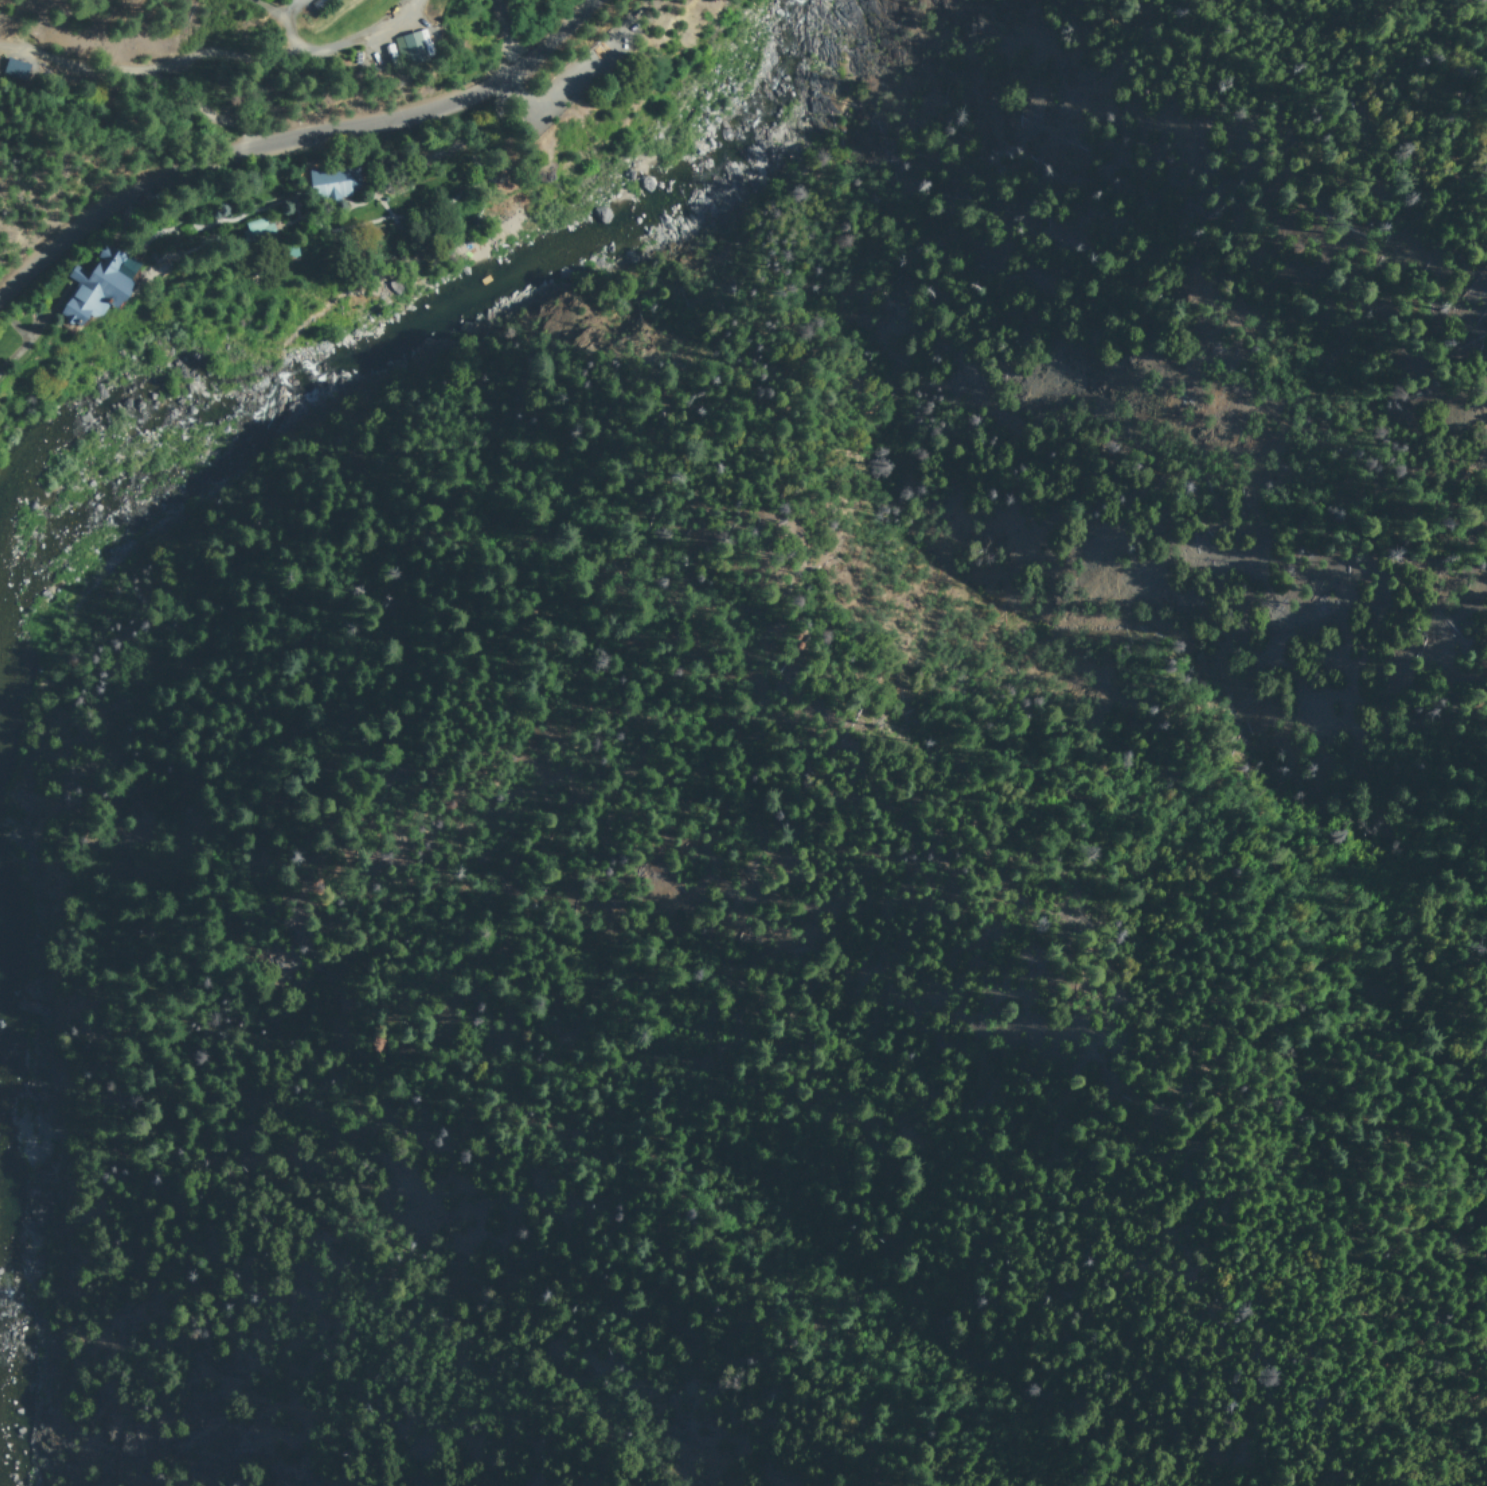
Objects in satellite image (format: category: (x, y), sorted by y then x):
road: (507, 35)
building: (410, 47)
river: (772, 49)
building: (18, 68)
road: (294, 136)
building: (335, 181)
wastewater plant: (340, 205)
river: (598, 238)
building: (162, 263)
building: (98, 285)
river: (289, 377)
river: (61, 478)
river: (6, 1254)

